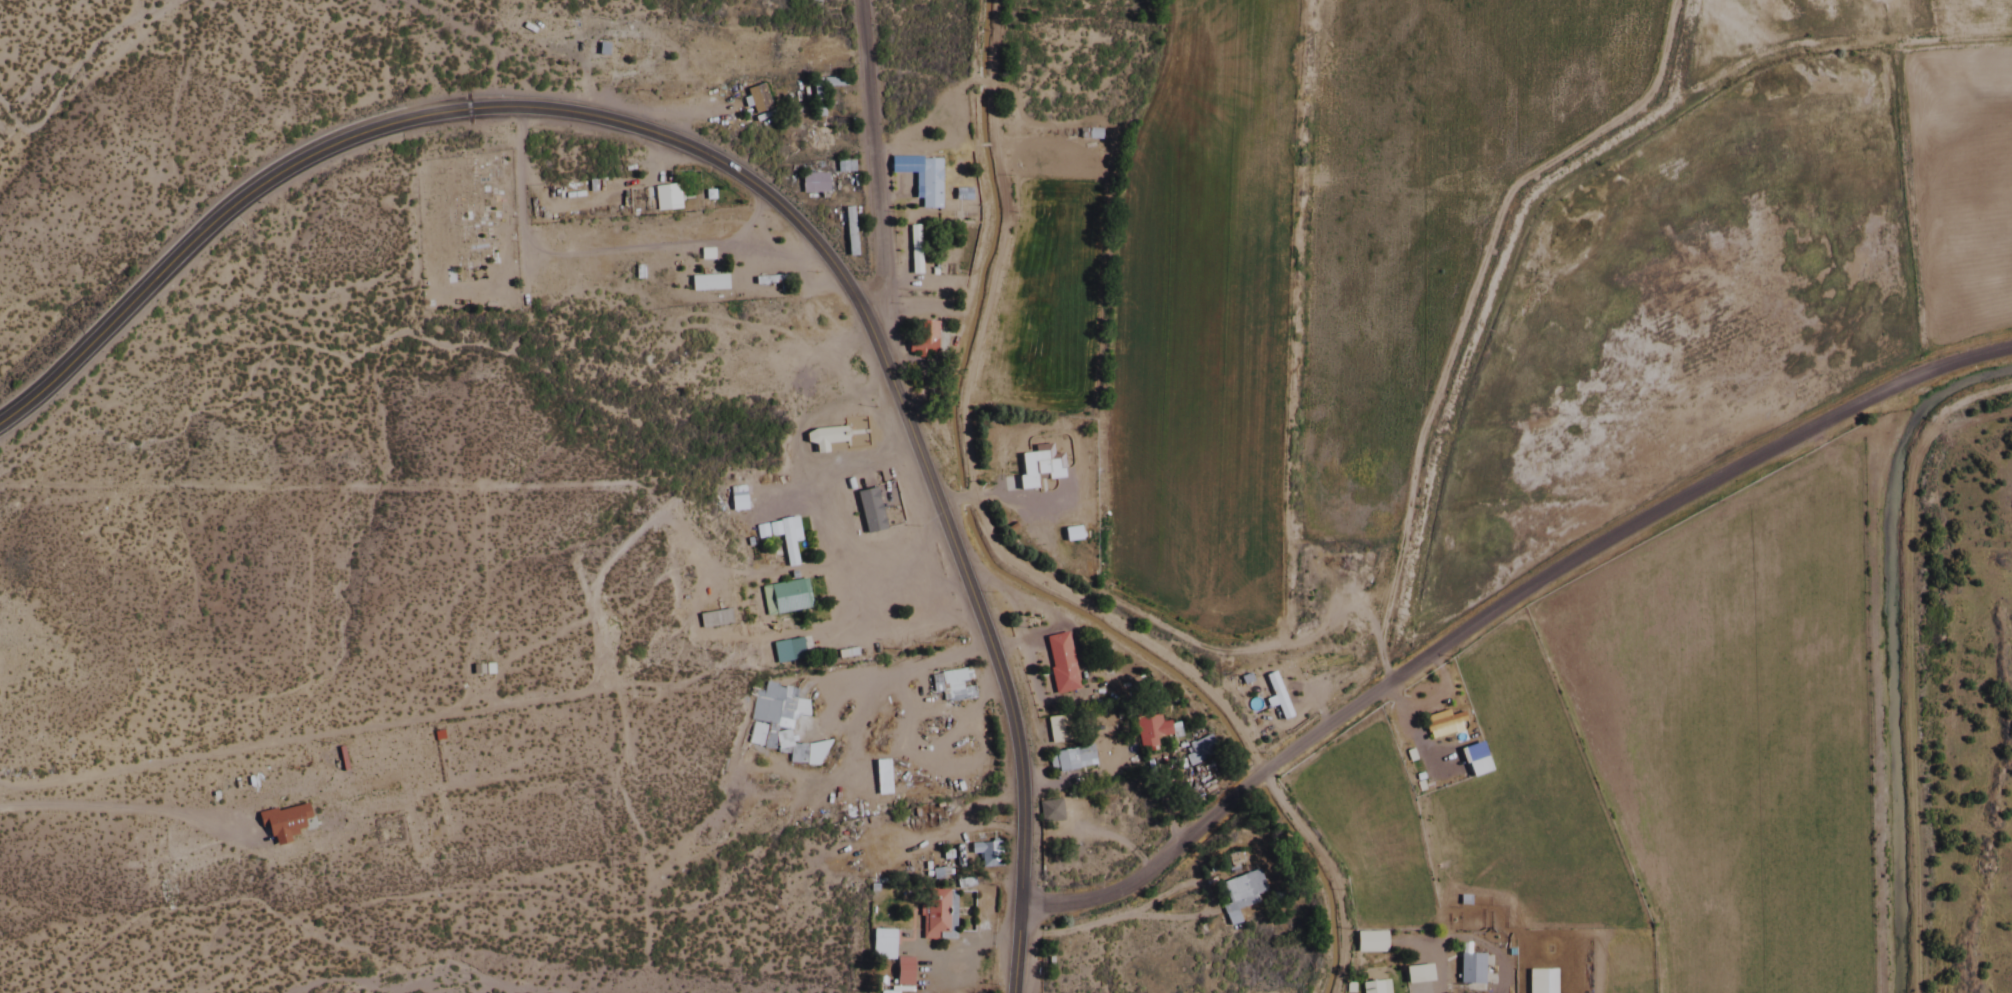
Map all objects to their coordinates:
road: (484, 54)
building: (621, 54)
road: (914, 79)
building: (755, 100)
building: (815, 103)
building: (813, 139)
building: (810, 184)
building: (926, 185)
building: (608, 186)
road: (749, 189)
road: (868, 189)
building: (663, 199)
park: (466, 236)
building: (912, 241)
building: (706, 284)
building: (921, 340)
building: (821, 439)
building: (1055, 472)
building: (866, 510)
building: (1069, 535)
building: (784, 540)
road: (997, 565)
road: (973, 570)
building: (1309, 586)
building: (783, 599)
road: (1495, 605)
building: (878, 632)
building: (790, 651)
building: (1059, 665)
building: (949, 686)
building: (766, 709)
building: (1281, 710)
building: (1444, 726)
building: (1056, 731)
building: (1149, 732)
building: (1198, 753)
building: (803, 756)
building: (1072, 761)
building: (1472, 762)
building: (1048, 813)
building: (279, 825)
building: (984, 854)
building: (1239, 895)
building: (934, 915)
building: (1367, 944)
building: (889, 957)
building: (1468, 970)
building: (1415, 976)
building: (1546, 982)
building: (1374, 988)

